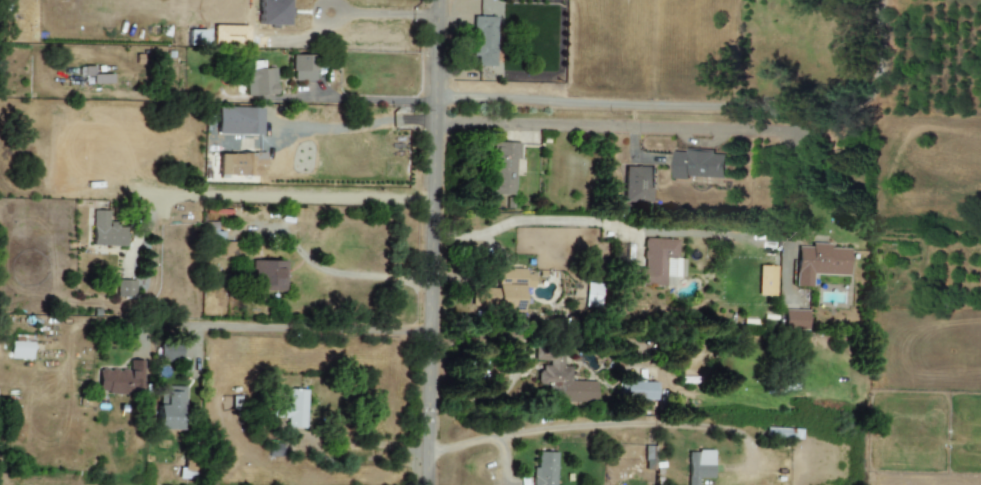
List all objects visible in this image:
building: (271, 12)
road: (381, 13)
building: (197, 38)
building: (484, 41)
road: (340, 47)
building: (303, 68)
road: (880, 72)
building: (260, 82)
road: (565, 101)
road: (611, 128)
building: (240, 164)
building: (697, 164)
building: (503, 168)
building: (637, 185)
road: (797, 185)
road: (277, 198)
road: (527, 219)
building: (106, 230)
road: (430, 242)
building: (230, 249)
building: (661, 262)
building: (819, 263)
road: (333, 272)
building: (268, 276)
building: (124, 289)
building: (502, 291)
building: (593, 296)
building: (794, 320)
road: (313, 328)
building: (20, 350)
building: (168, 352)
building: (121, 380)
building: (564, 381)
building: (637, 391)
building: (169, 407)
building: (291, 410)
road: (580, 430)
road: (347, 438)
building: (699, 466)
building: (544, 469)

